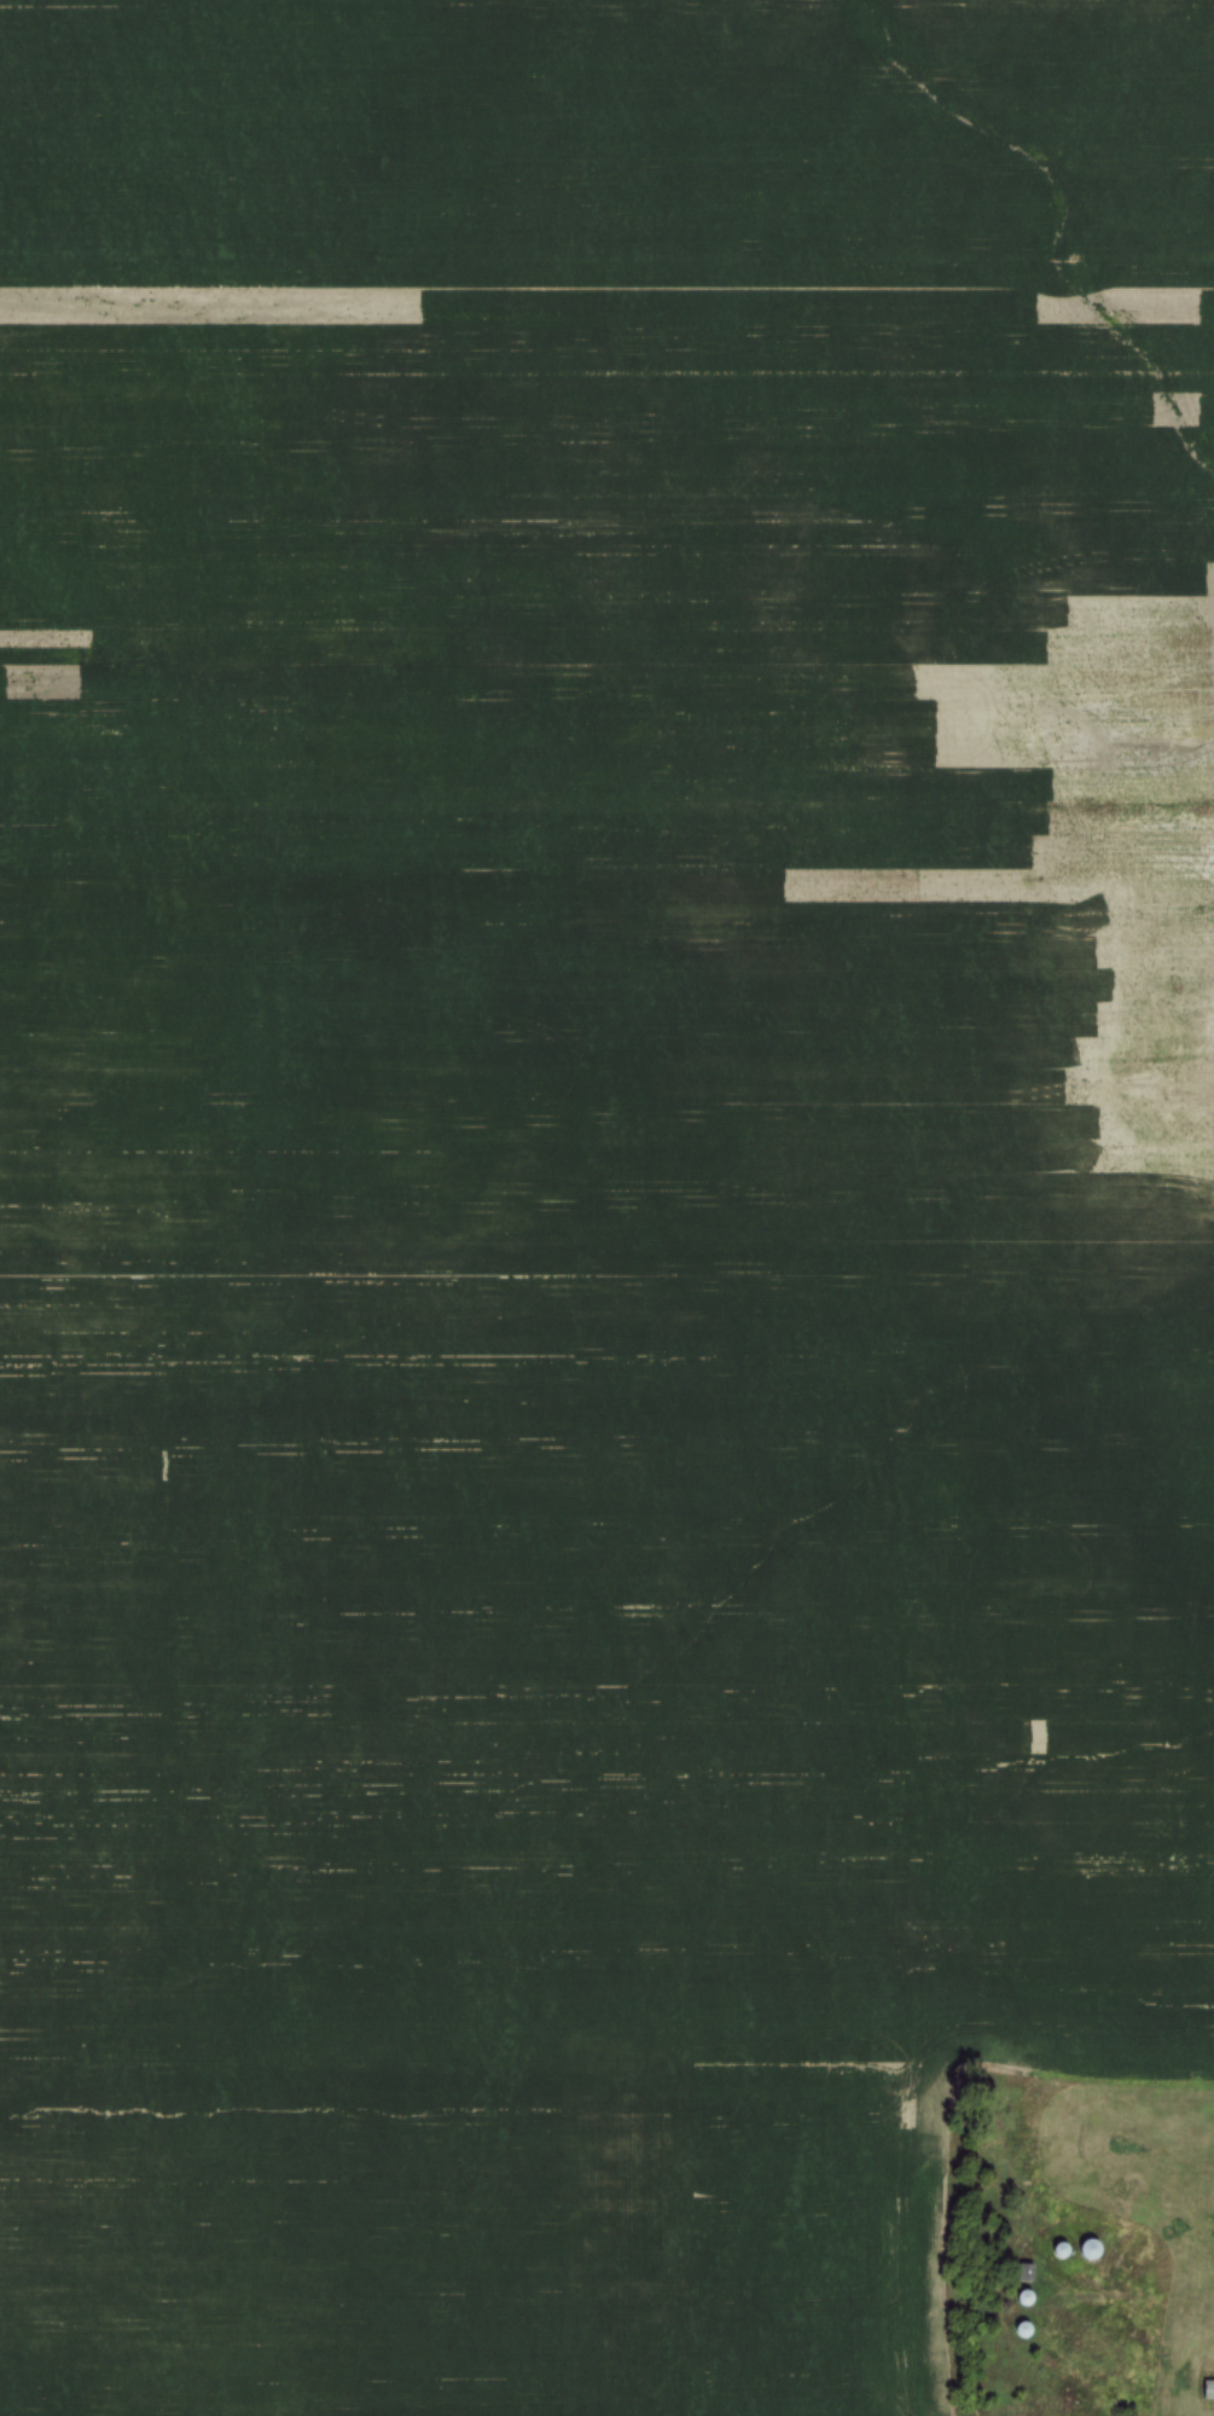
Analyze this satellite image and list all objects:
building: (1092, 2250)
building: (1062, 2252)
building: (1027, 2273)
building: (1028, 2299)
building: (1026, 2331)
building: (1209, 2391)

